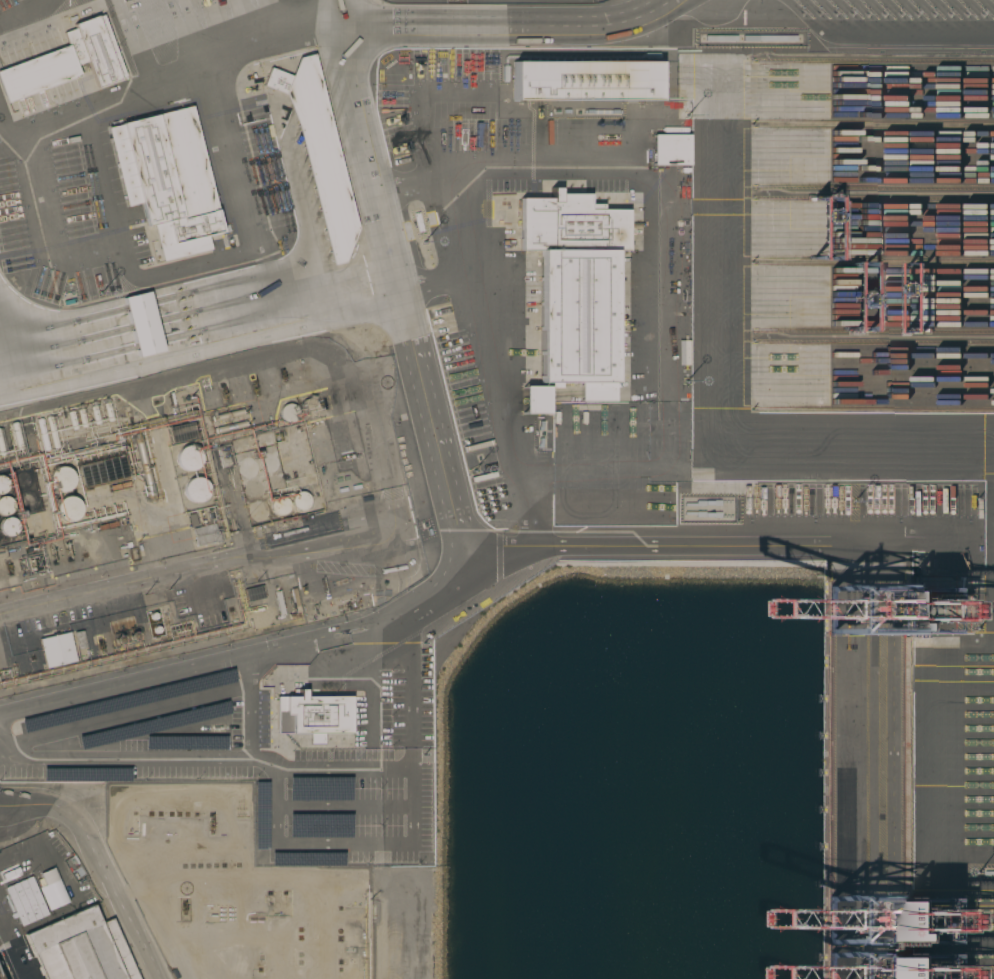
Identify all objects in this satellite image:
road: (26, 10)
road: (339, 13)
road: (505, 27)
building: (69, 61)
road: (164, 78)
building: (585, 79)
building: (671, 149)
building: (317, 151)
building: (167, 178)
building: (573, 287)
road: (196, 302)
building: (143, 323)
road: (408, 331)
building: (533, 400)
building: (307, 408)
building: (108, 412)
building: (288, 413)
building: (95, 415)
building: (226, 415)
building: (82, 418)
building: (72, 420)
building: (229, 427)
building: (52, 432)
building: (181, 432)
building: (43, 434)
building: (16, 436)
road: (377, 442)
building: (1, 448)
building: (187, 457)
building: (269, 463)
building: (143, 468)
building: (248, 468)
building: (60, 479)
building: (24, 480)
building: (273, 484)
building: (3, 485)
building: (252, 489)
building: (195, 490)
building: (28, 500)
building: (300, 501)
building: (6, 506)
building: (279, 506)
building: (68, 509)
building: (9, 527)
building: (205, 535)
road: (197, 564)
building: (319, 589)
building: (253, 594)
building: (288, 604)
building: (79, 640)
building: (89, 641)
building: (56, 650)
road: (207, 662)
building: (125, 701)
building: (313, 714)
building: (152, 725)
building: (184, 742)
road: (391, 744)
road: (123, 759)
road: (273, 759)
building: (85, 775)
building: (318, 788)
building: (259, 816)
petroleum well: (210, 822)
building: (318, 825)
road: (31, 839)
building: (306, 859)
road: (98, 865)
building: (36, 897)
building: (80, 949)
building: (940, 971)
pier: (2, 973)

